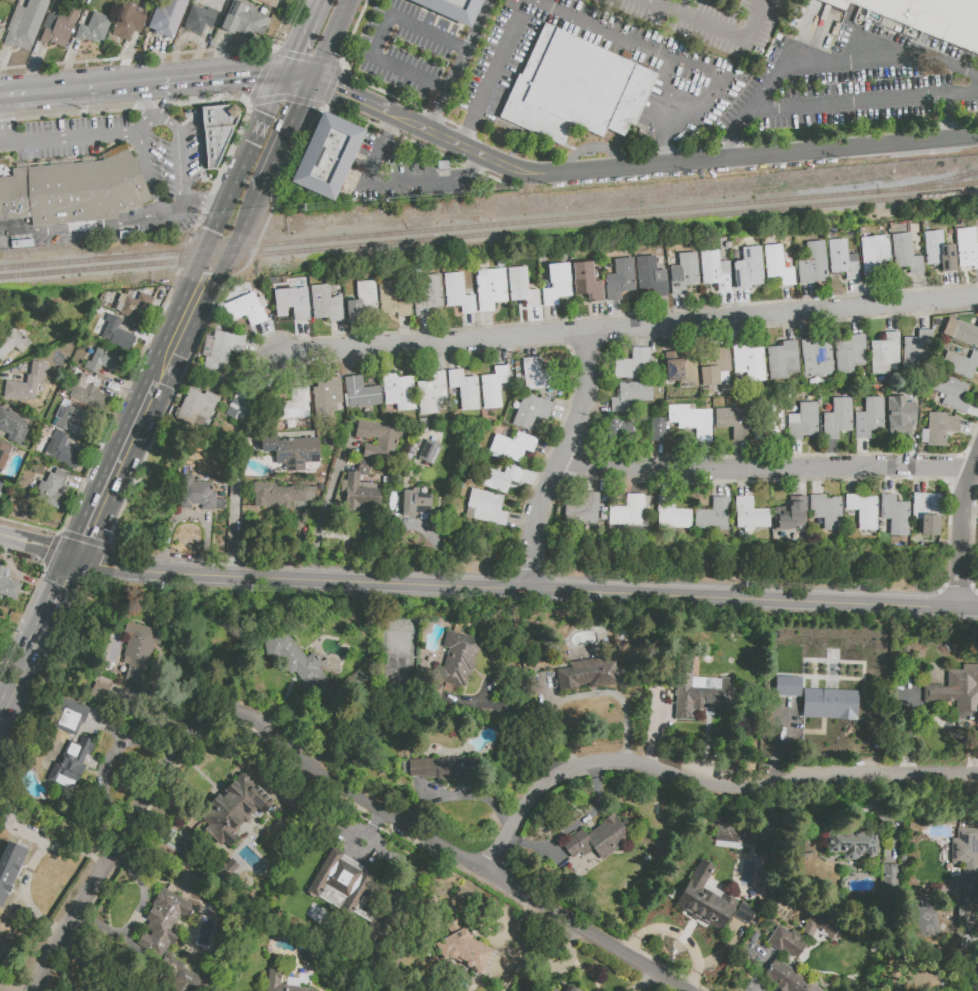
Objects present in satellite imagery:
building: (269, 3)
road: (681, 7)
building: (451, 9)
building: (932, 18)
building: (198, 19)
building: (244, 20)
building: (127, 21)
building: (161, 23)
building: (25, 24)
building: (60, 25)
building: (92, 26)
road: (600, 30)
road: (721, 30)
building: (1, 31)
road: (384, 35)
road: (301, 37)
road: (333, 40)
traffic signals: (295, 51)
road: (839, 60)
road: (460, 66)
parking lot: (706, 71)
traffic signals: (256, 77)
road: (299, 77)
road: (225, 79)
parking lot: (851, 83)
road: (161, 85)
traffic signals: (333, 88)
building: (576, 90)
road: (80, 92)
road: (352, 96)
road: (155, 99)
road: (3, 100)
road: (867, 103)
traffic signals: (303, 105)
road: (398, 117)
road: (947, 118)
road: (148, 119)
road: (166, 120)
road: (2, 124)
road: (393, 126)
road: (138, 129)
building: (217, 132)
road: (288, 135)
road: (466, 138)
road: (68, 143)
road: (591, 146)
road: (731, 147)
road: (668, 149)
road: (468, 151)
building: (326, 157)
road: (754, 157)
road: (182, 165)
road: (479, 165)
road: (145, 166)
parking lot: (407, 175)
road: (400, 183)
railway: (926, 183)
building: (72, 191)
road: (205, 202)
road: (162, 208)
road: (176, 211)
road: (217, 220)
railway: (488, 224)
road: (83, 227)
railway: (488, 234)
building: (967, 246)
building: (938, 251)
building: (905, 254)
building: (874, 256)
building: (842, 259)
building: (813, 264)
building: (777, 265)
building: (748, 269)
building: (715, 270)
building: (684, 274)
building: (651, 277)
building: (620, 279)
road: (215, 281)
building: (586, 281)
building: (556, 284)
road: (949, 286)
building: (490, 288)
building: (521, 288)
road: (921, 289)
building: (457, 293)
road: (872, 293)
building: (428, 295)
road: (857, 295)
building: (392, 299)
road: (812, 299)
building: (362, 300)
road: (793, 300)
building: (293, 302)
building: (327, 303)
building: (135, 304)
road: (747, 305)
road: (729, 307)
building: (246, 309)
road: (683, 312)
road: (664, 314)
road: (924, 316)
road: (617, 317)
road: (600, 318)
road: (892, 319)
road: (535, 322)
road: (555, 322)
road: (857, 322)
road: (488, 326)
road: (808, 326)
road: (471, 327)
road: (629, 328)
road: (790, 328)
road: (427, 330)
road: (407, 331)
road: (737, 332)
building: (961, 332)
building: (116, 333)
road: (720, 333)
road: (358, 335)
road: (340, 336)
road: (306, 337)
road: (649, 337)
road: (671, 339)
road: (269, 340)
building: (12, 343)
road: (531, 347)
building: (221, 349)
road: (262, 350)
road: (502, 352)
building: (916, 352)
building: (883, 353)
building: (850, 354)
road: (455, 356)
road: (438, 358)
building: (817, 358)
building: (99, 360)
building: (782, 360)
road: (390, 361)
building: (749, 361)
road: (352, 363)
building: (713, 363)
road: (332, 364)
building: (633, 364)
building: (961, 364)
building: (682, 368)
road: (299, 371)
road: (237, 372)
road: (266, 374)
road: (160, 375)
building: (538, 375)
building: (494, 386)
building: (22, 389)
building: (465, 390)
building: (398, 391)
building: (88, 392)
building: (326, 393)
building: (360, 393)
building: (431, 393)
building: (951, 393)
building: (631, 395)
building: (239, 403)
road: (597, 405)
building: (294, 406)
building: (197, 407)
building: (531, 411)
road: (974, 411)
road: (565, 416)
building: (900, 417)
building: (71, 418)
building: (837, 418)
building: (869, 418)
building: (691, 420)
building: (734, 422)
building: (803, 422)
building: (767, 425)
building: (12, 426)
building: (939, 429)
building: (622, 430)
building: (657, 430)
road: (970, 430)
building: (378, 440)
road: (349, 443)
building: (512, 446)
building: (65, 450)
building: (291, 450)
road: (549, 451)
building: (4, 452)
building: (429, 452)
road: (912, 453)
road: (865, 454)
road: (660, 456)
road: (744, 456)
road: (765, 456)
road: (798, 456)
road: (707, 457)
road: (562, 461)
building: (362, 467)
road: (116, 469)
road: (768, 470)
building: (497, 477)
road: (536, 480)
road: (594, 480)
road: (890, 481)
road: (925, 481)
road: (974, 481)
road: (642, 482)
road: (819, 482)
road: (855, 482)
building: (0, 484)
road: (670, 484)
road: (748, 484)
road: (723, 485)
building: (50, 486)
road: (801, 486)
road: (399, 492)
building: (280, 493)
building: (359, 493)
building: (198, 495)
road: (236, 503)
building: (415, 504)
building: (485, 508)
building: (585, 511)
building: (866, 511)
building: (632, 512)
building: (830, 512)
road: (324, 513)
building: (931, 514)
road: (192, 515)
building: (675, 515)
road: (971, 515)
building: (716, 516)
building: (753, 516)
building: (898, 516)
road: (209, 517)
building: (797, 517)
road: (523, 522)
road: (413, 526)
road: (963, 534)
road: (301, 542)
road: (37, 546)
road: (349, 546)
traffic signals: (74, 558)
building: (8, 587)
road: (525, 589)
road: (36, 634)
building: (139, 652)
building: (457, 659)
road: (10, 664)
building: (309, 668)
building: (586, 674)
building: (786, 686)
building: (699, 691)
building: (99, 692)
building: (957, 692)
building: (831, 705)
building: (70, 717)
road: (526, 727)
road: (110, 759)
building: (70, 764)
building: (445, 769)
road: (164, 770)
road: (705, 785)
building: (235, 808)
building: (736, 835)
building: (599, 839)
building: (851, 844)
building: (967, 859)
road: (30, 863)
building: (6, 876)
building: (888, 885)
building: (350, 895)
road: (528, 896)
building: (710, 900)
building: (822, 927)
building: (168, 936)
building: (786, 941)
building: (463, 948)
building: (786, 977)
building: (294, 982)
road: (7, 989)
building: (570, 989)
building: (553, 990)

